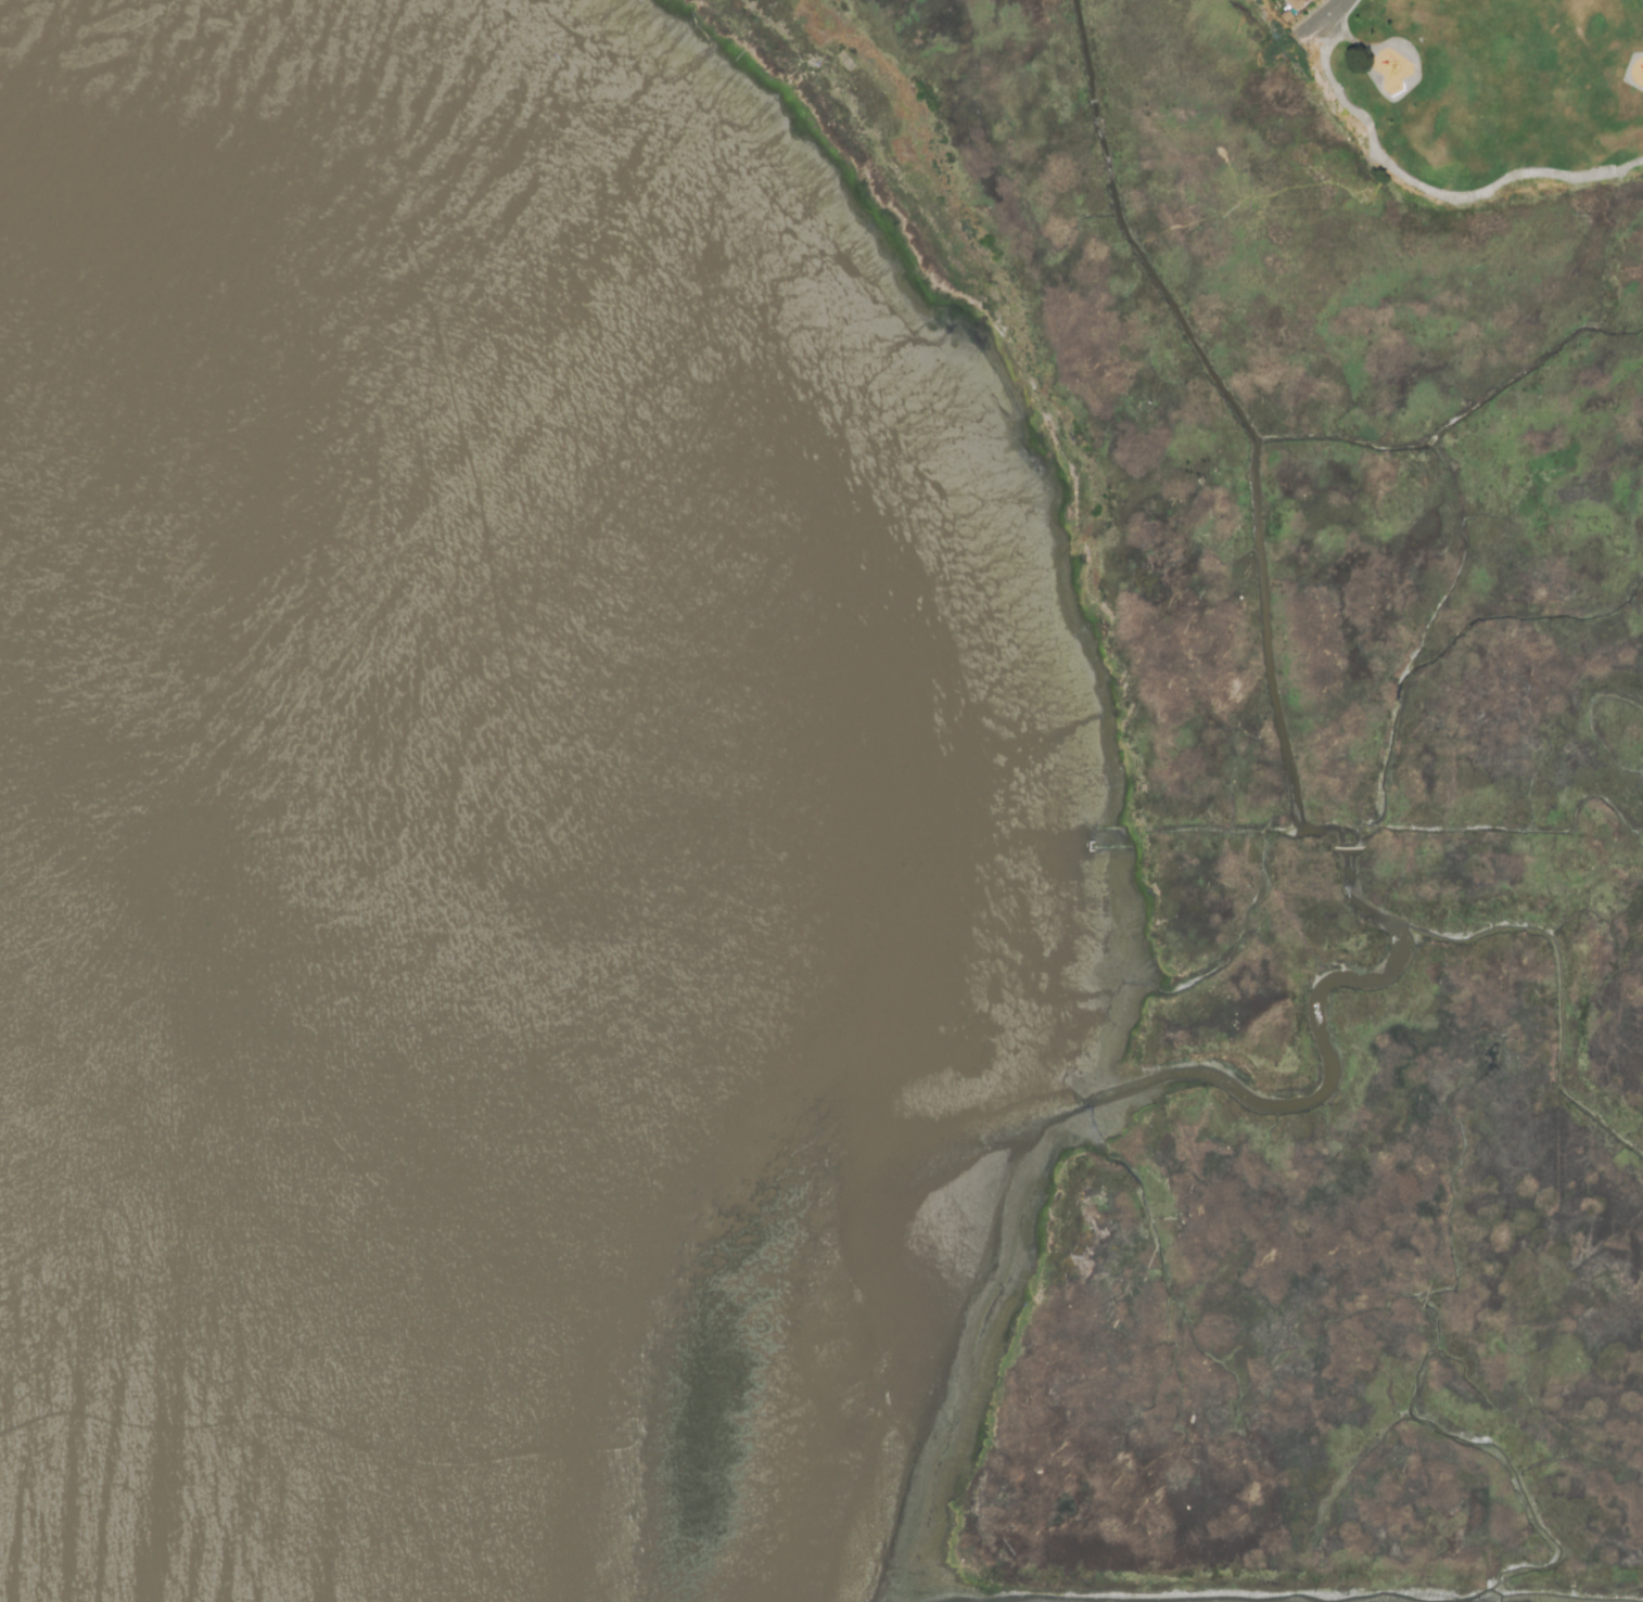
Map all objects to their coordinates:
building: (1295, 3)
road: (1328, 20)
park: (1492, 93)

